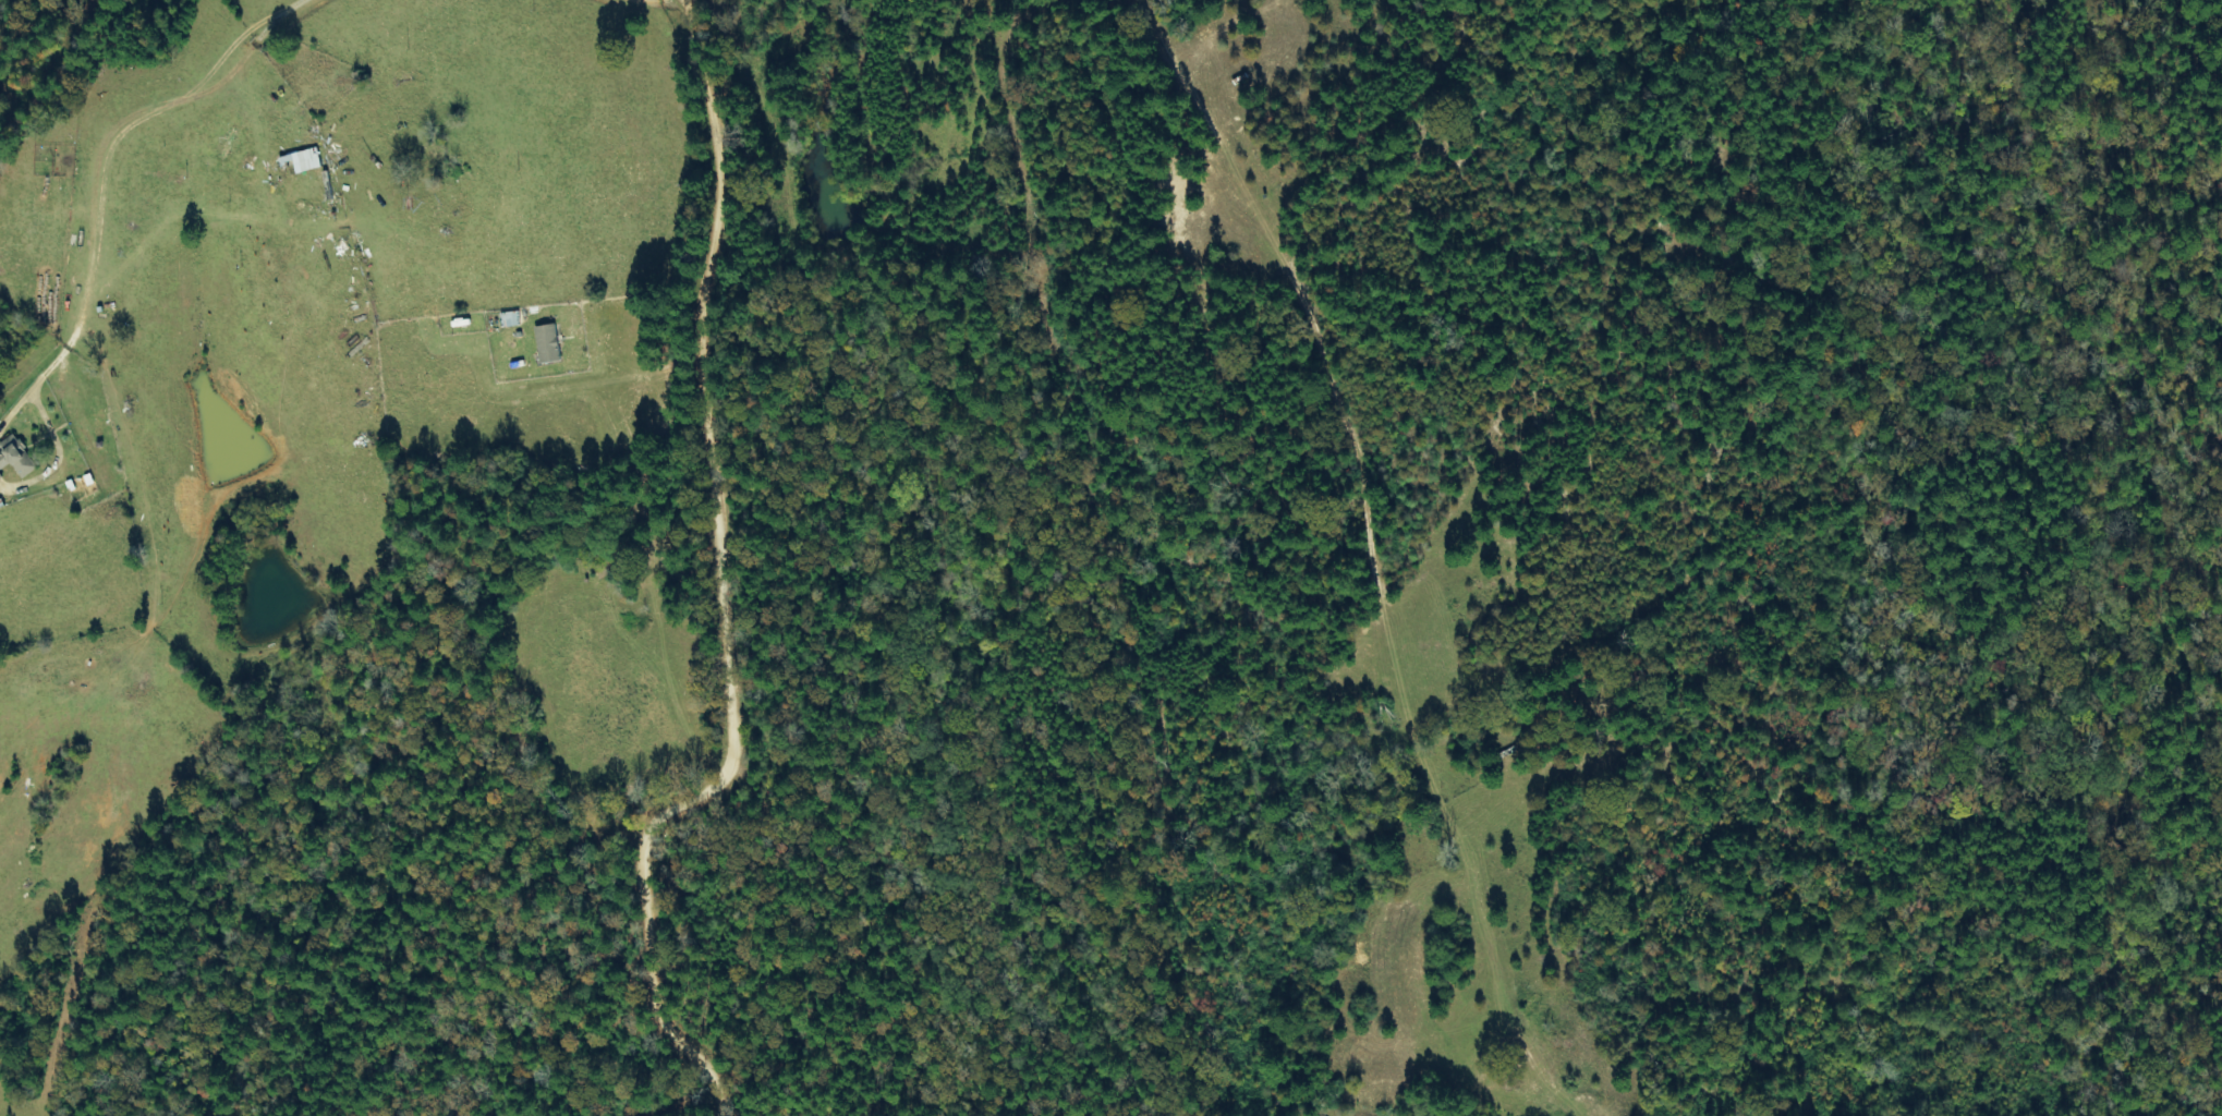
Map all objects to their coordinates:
building: (303, 161)
building: (548, 343)
building: (19, 456)
building: (3, 461)
building: (0, 476)
road: (712, 571)

